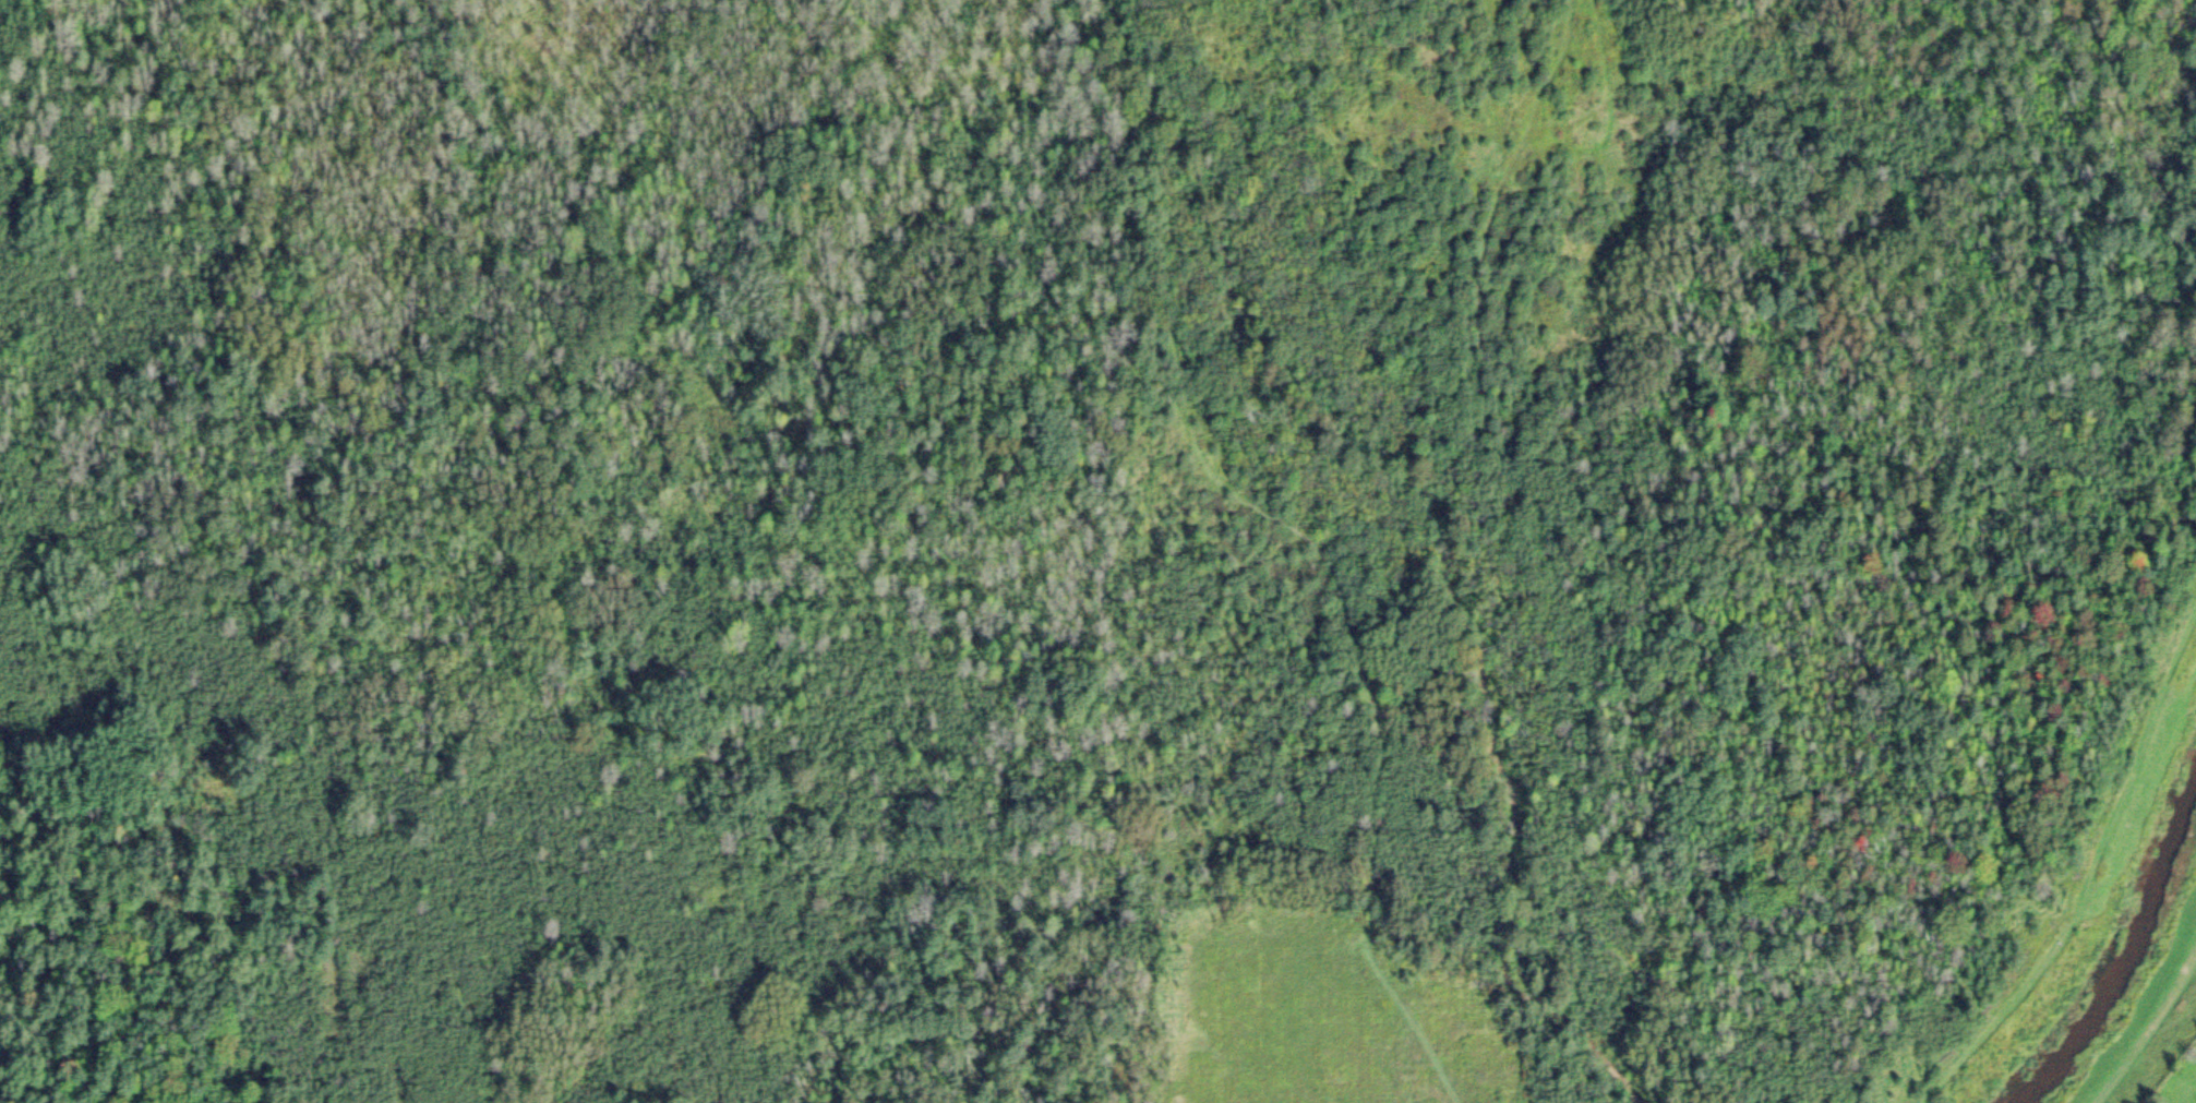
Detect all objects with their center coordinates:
wastewater plant: (2174, 1076)

